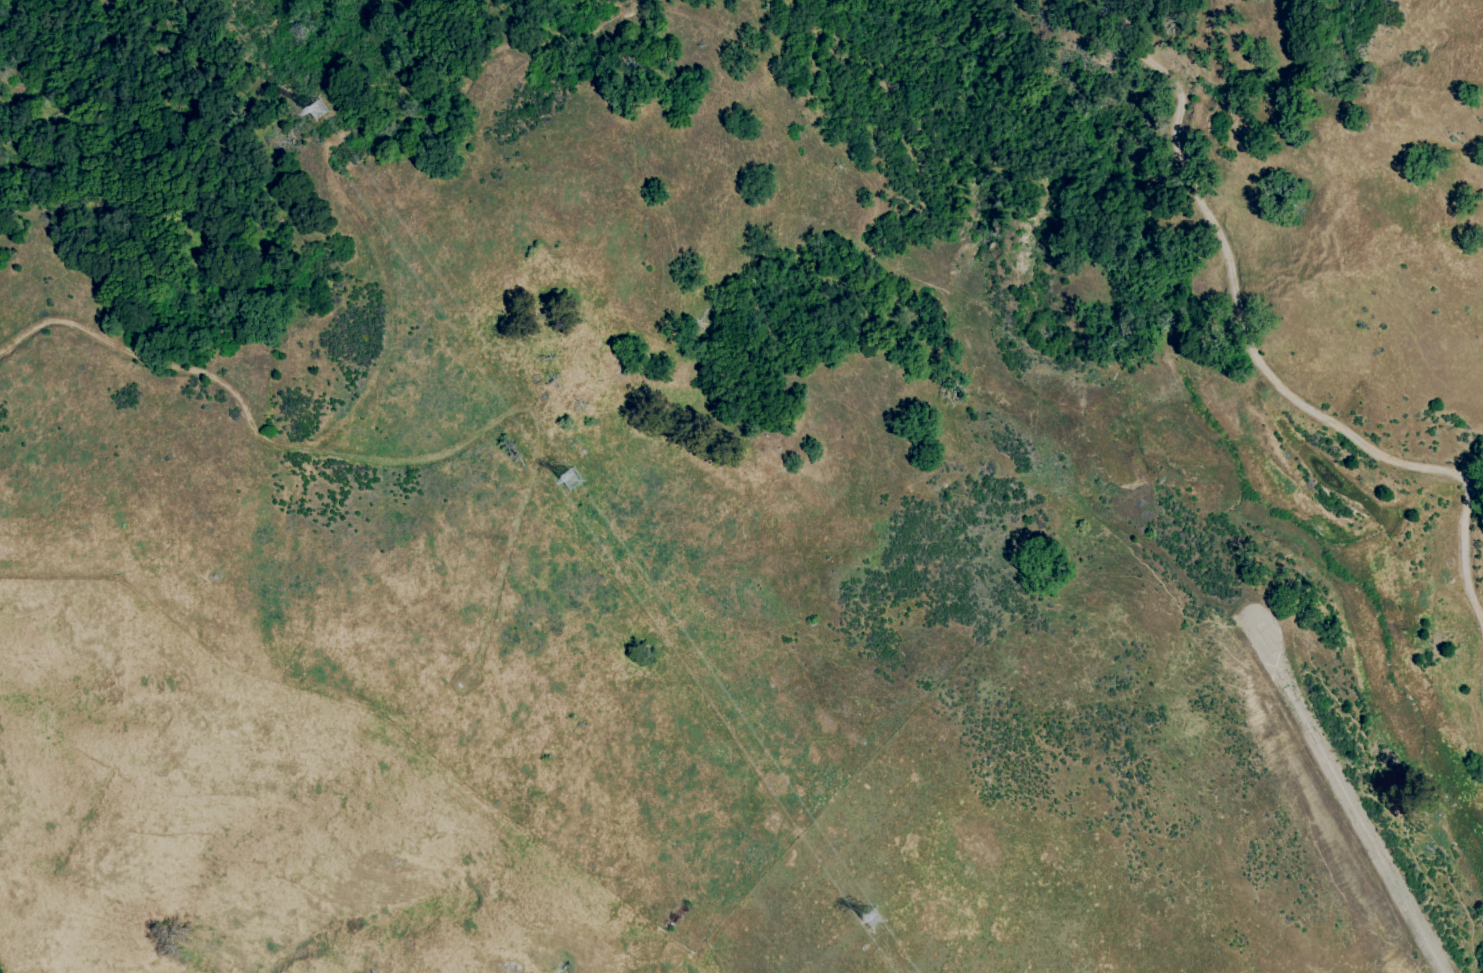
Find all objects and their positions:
power tower: (312, 114)
road: (1260, 353)
road: (394, 462)
power tower: (568, 480)
road: (667, 654)
airport runway: (1350, 793)
road: (857, 903)
power tower: (879, 923)

